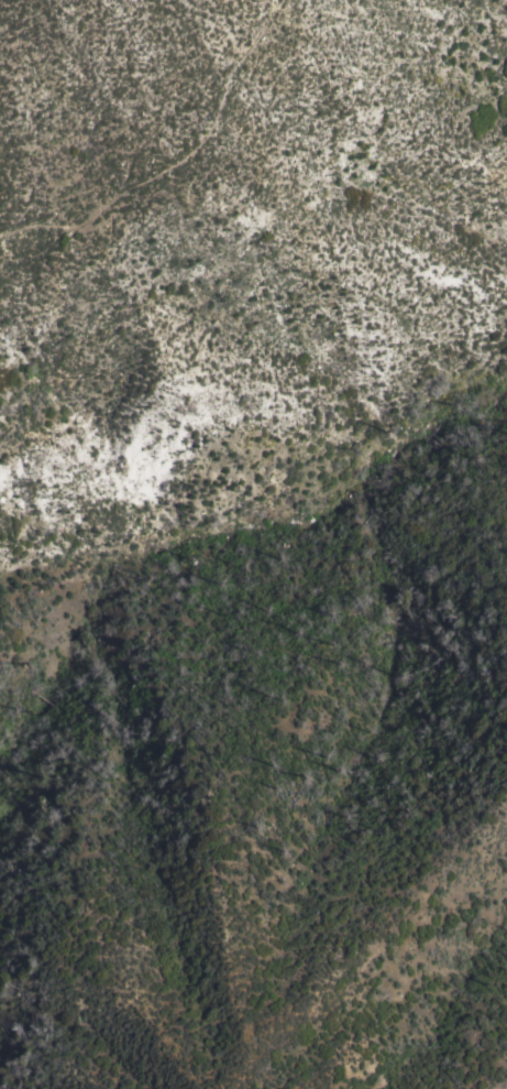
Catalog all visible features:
road: (173, 160)

